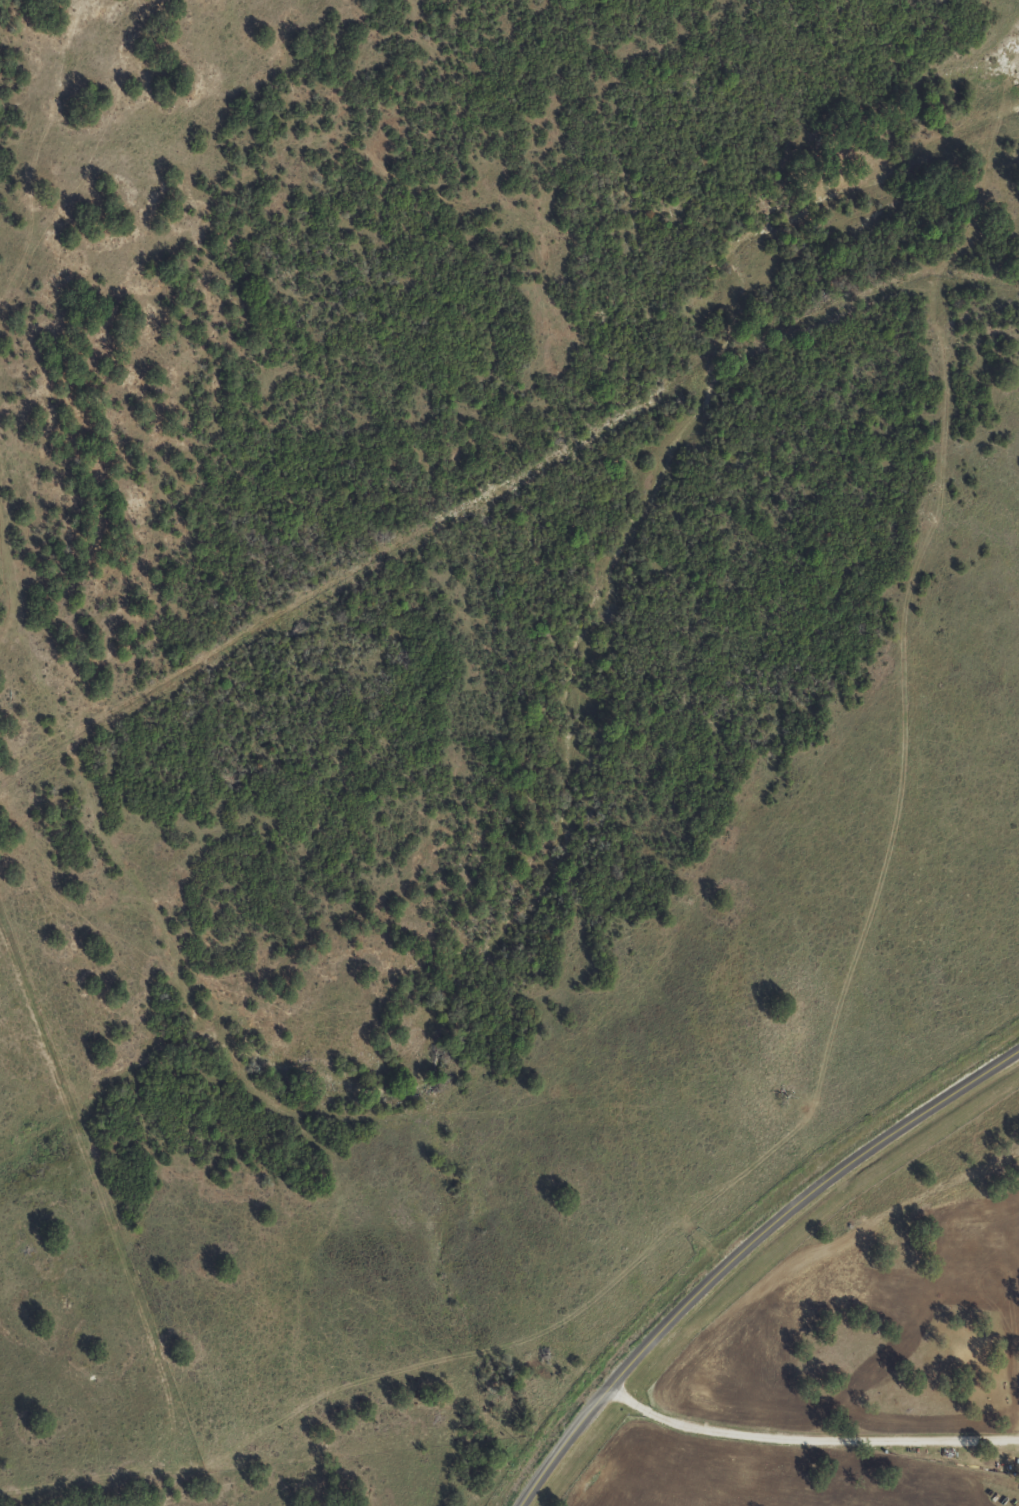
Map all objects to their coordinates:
road: (746, 1251)

